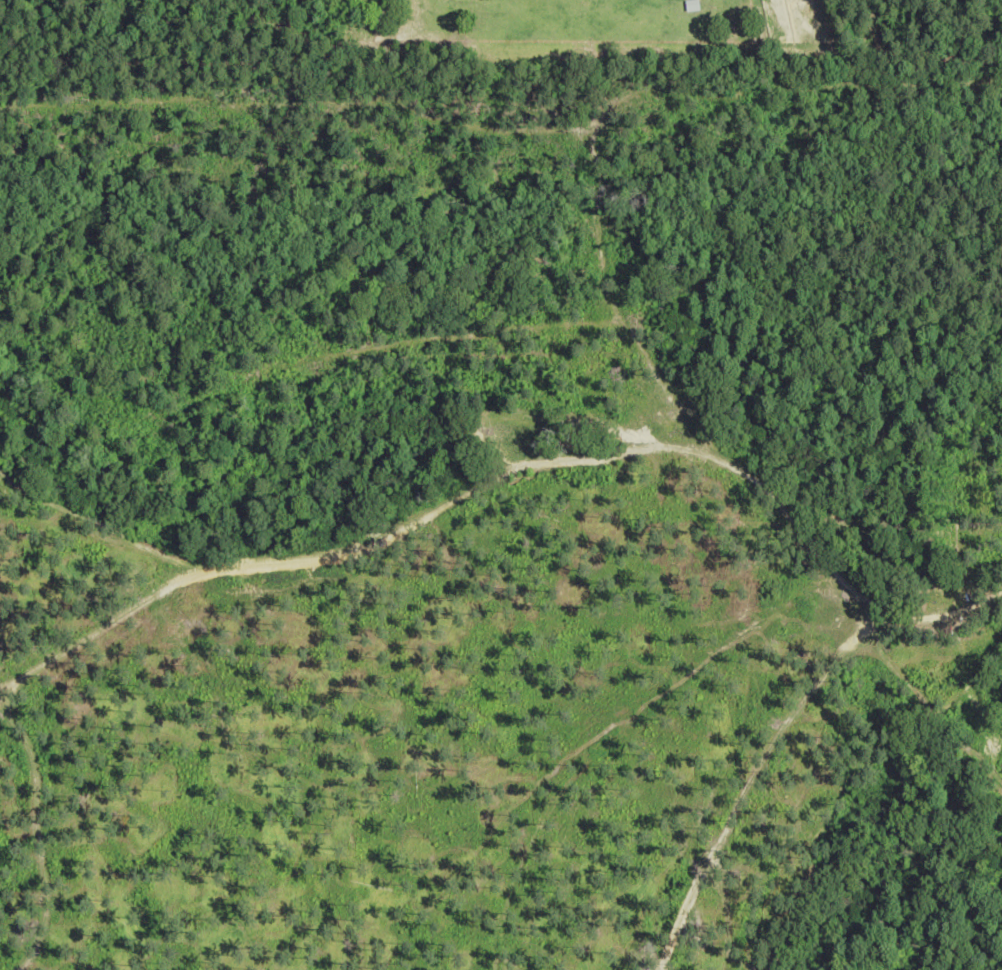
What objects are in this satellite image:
building: (693, 5)

